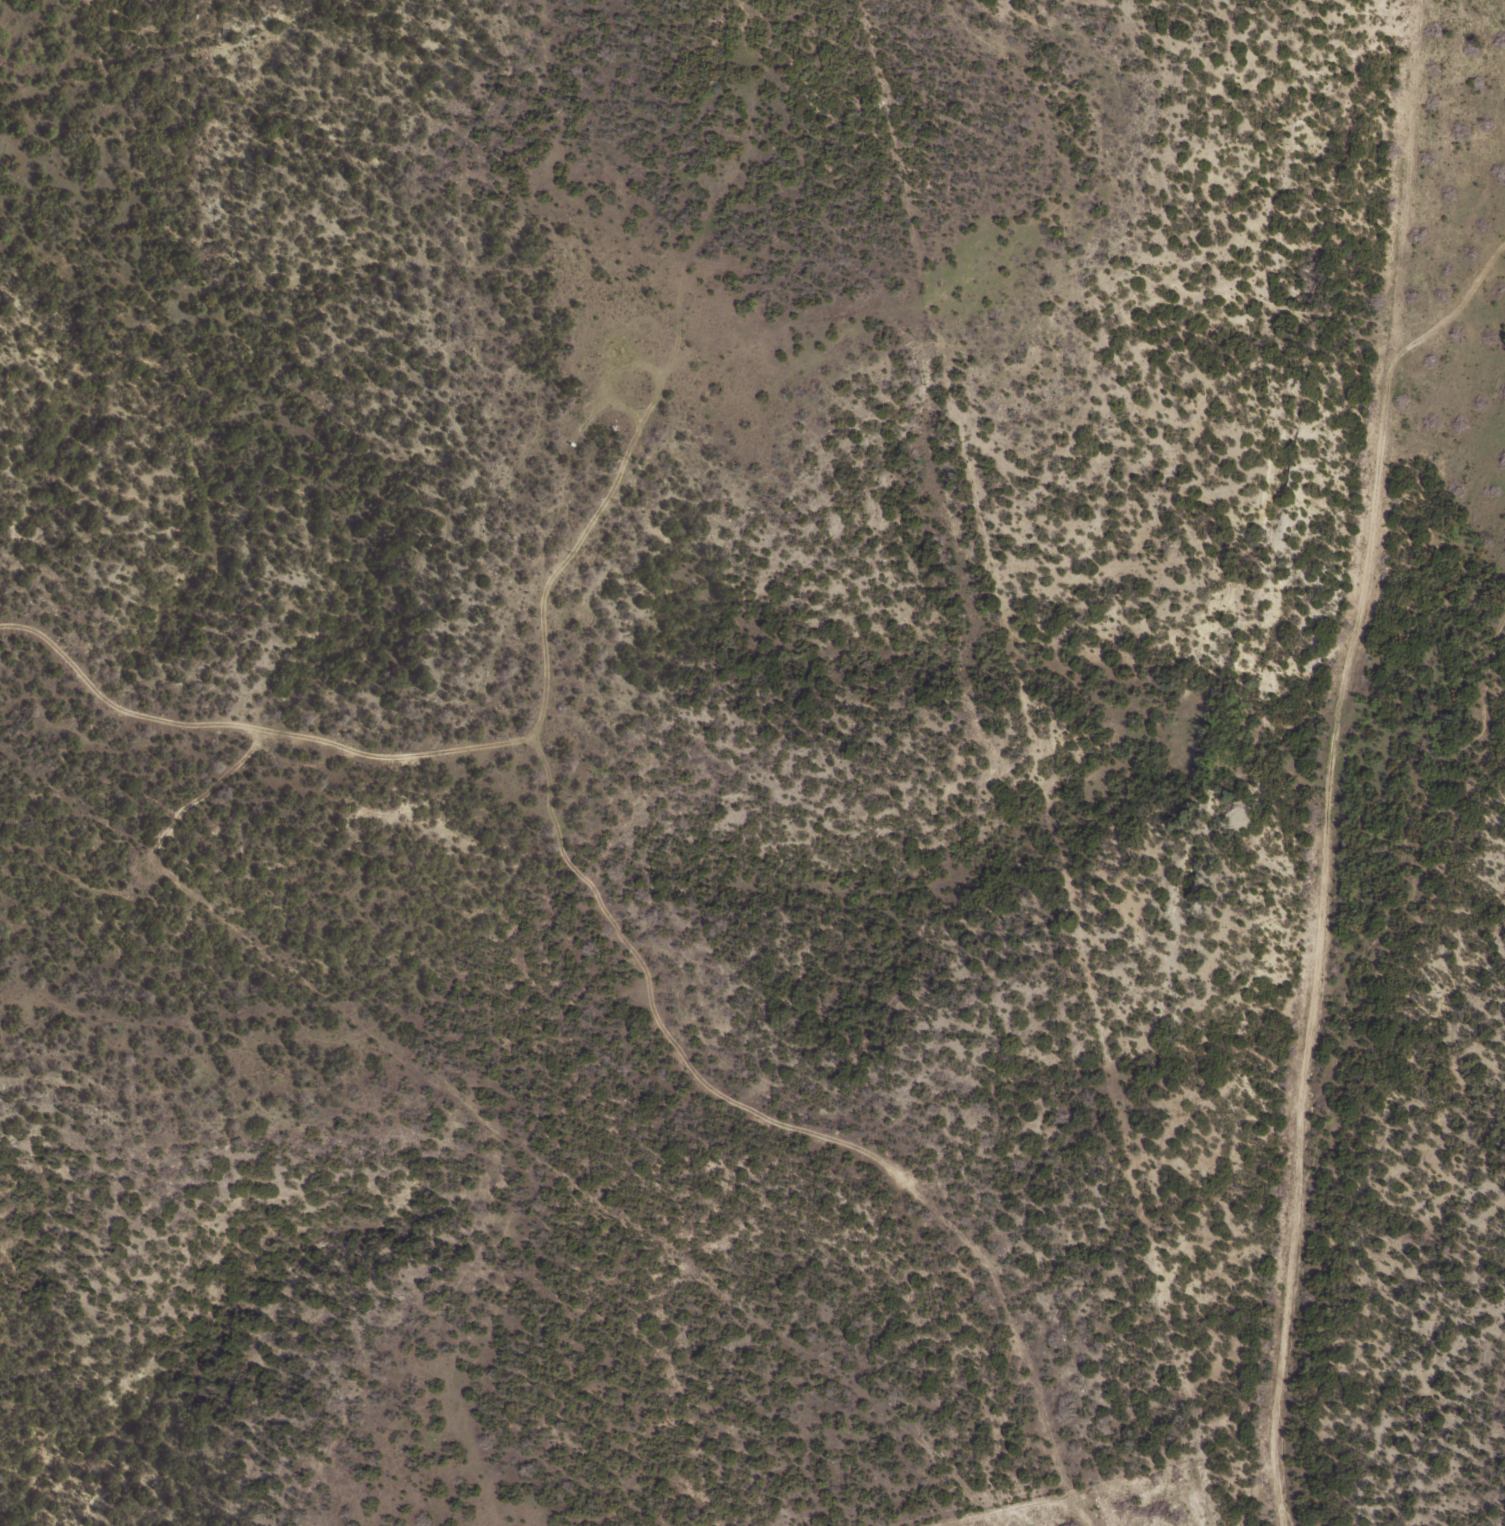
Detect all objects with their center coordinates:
road: (1431, 345)
road: (1352, 762)

